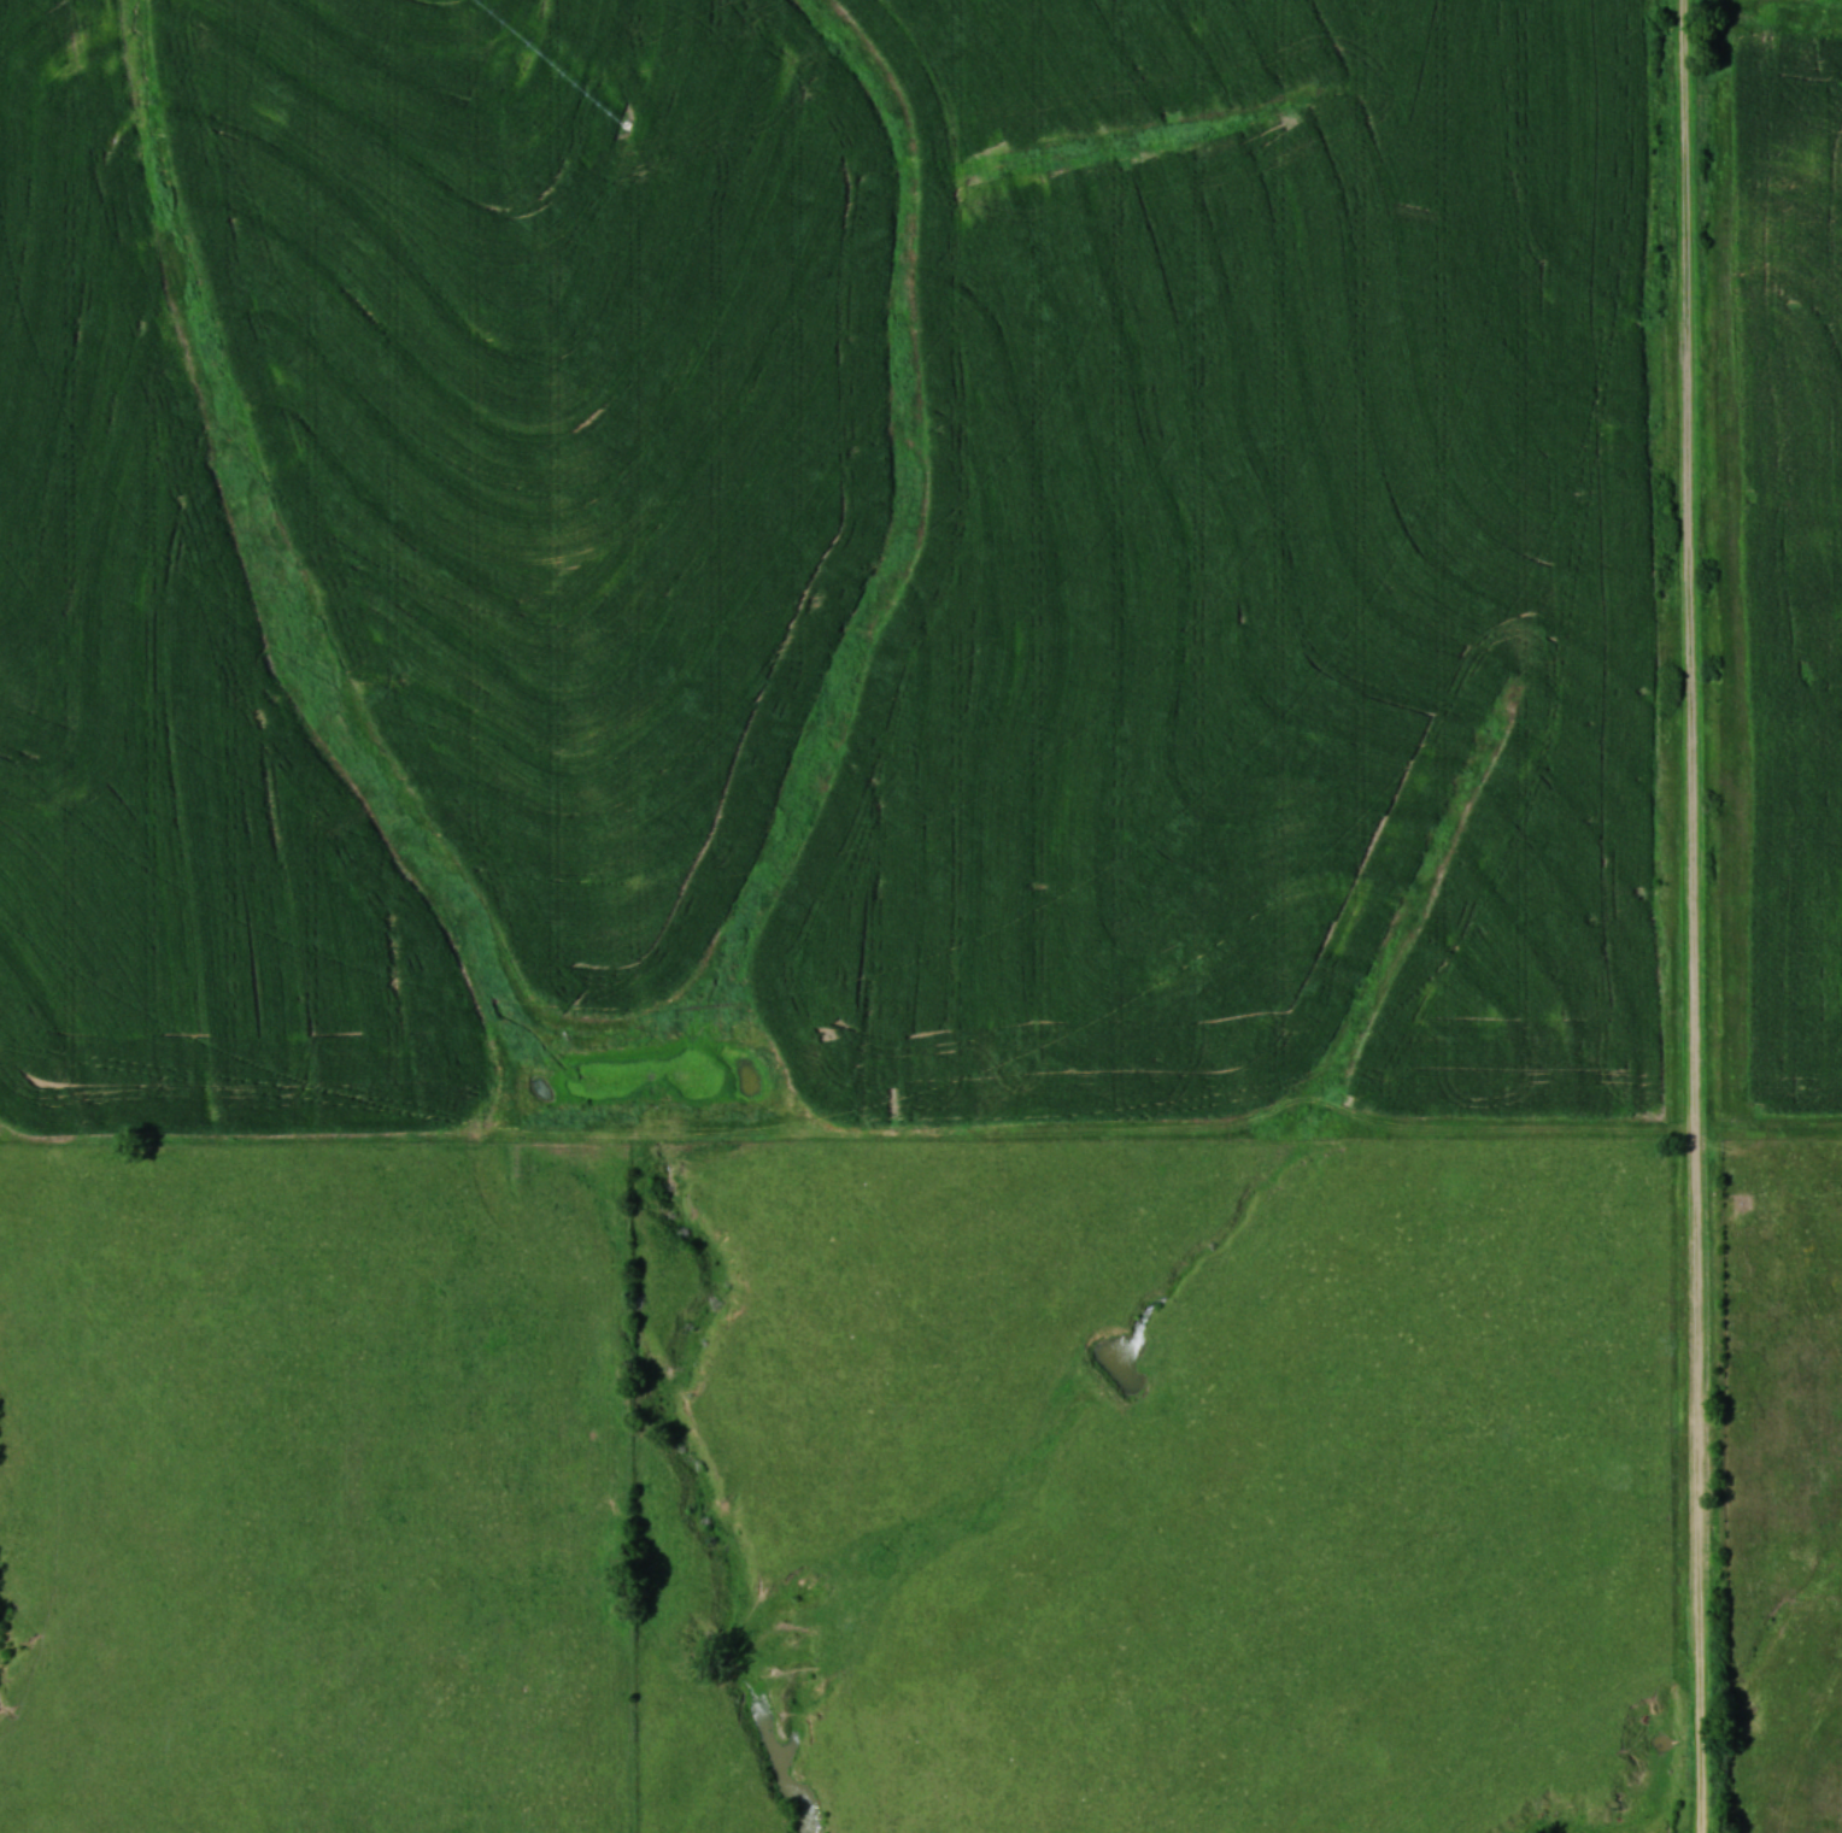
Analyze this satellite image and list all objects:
road: (1697, 916)

